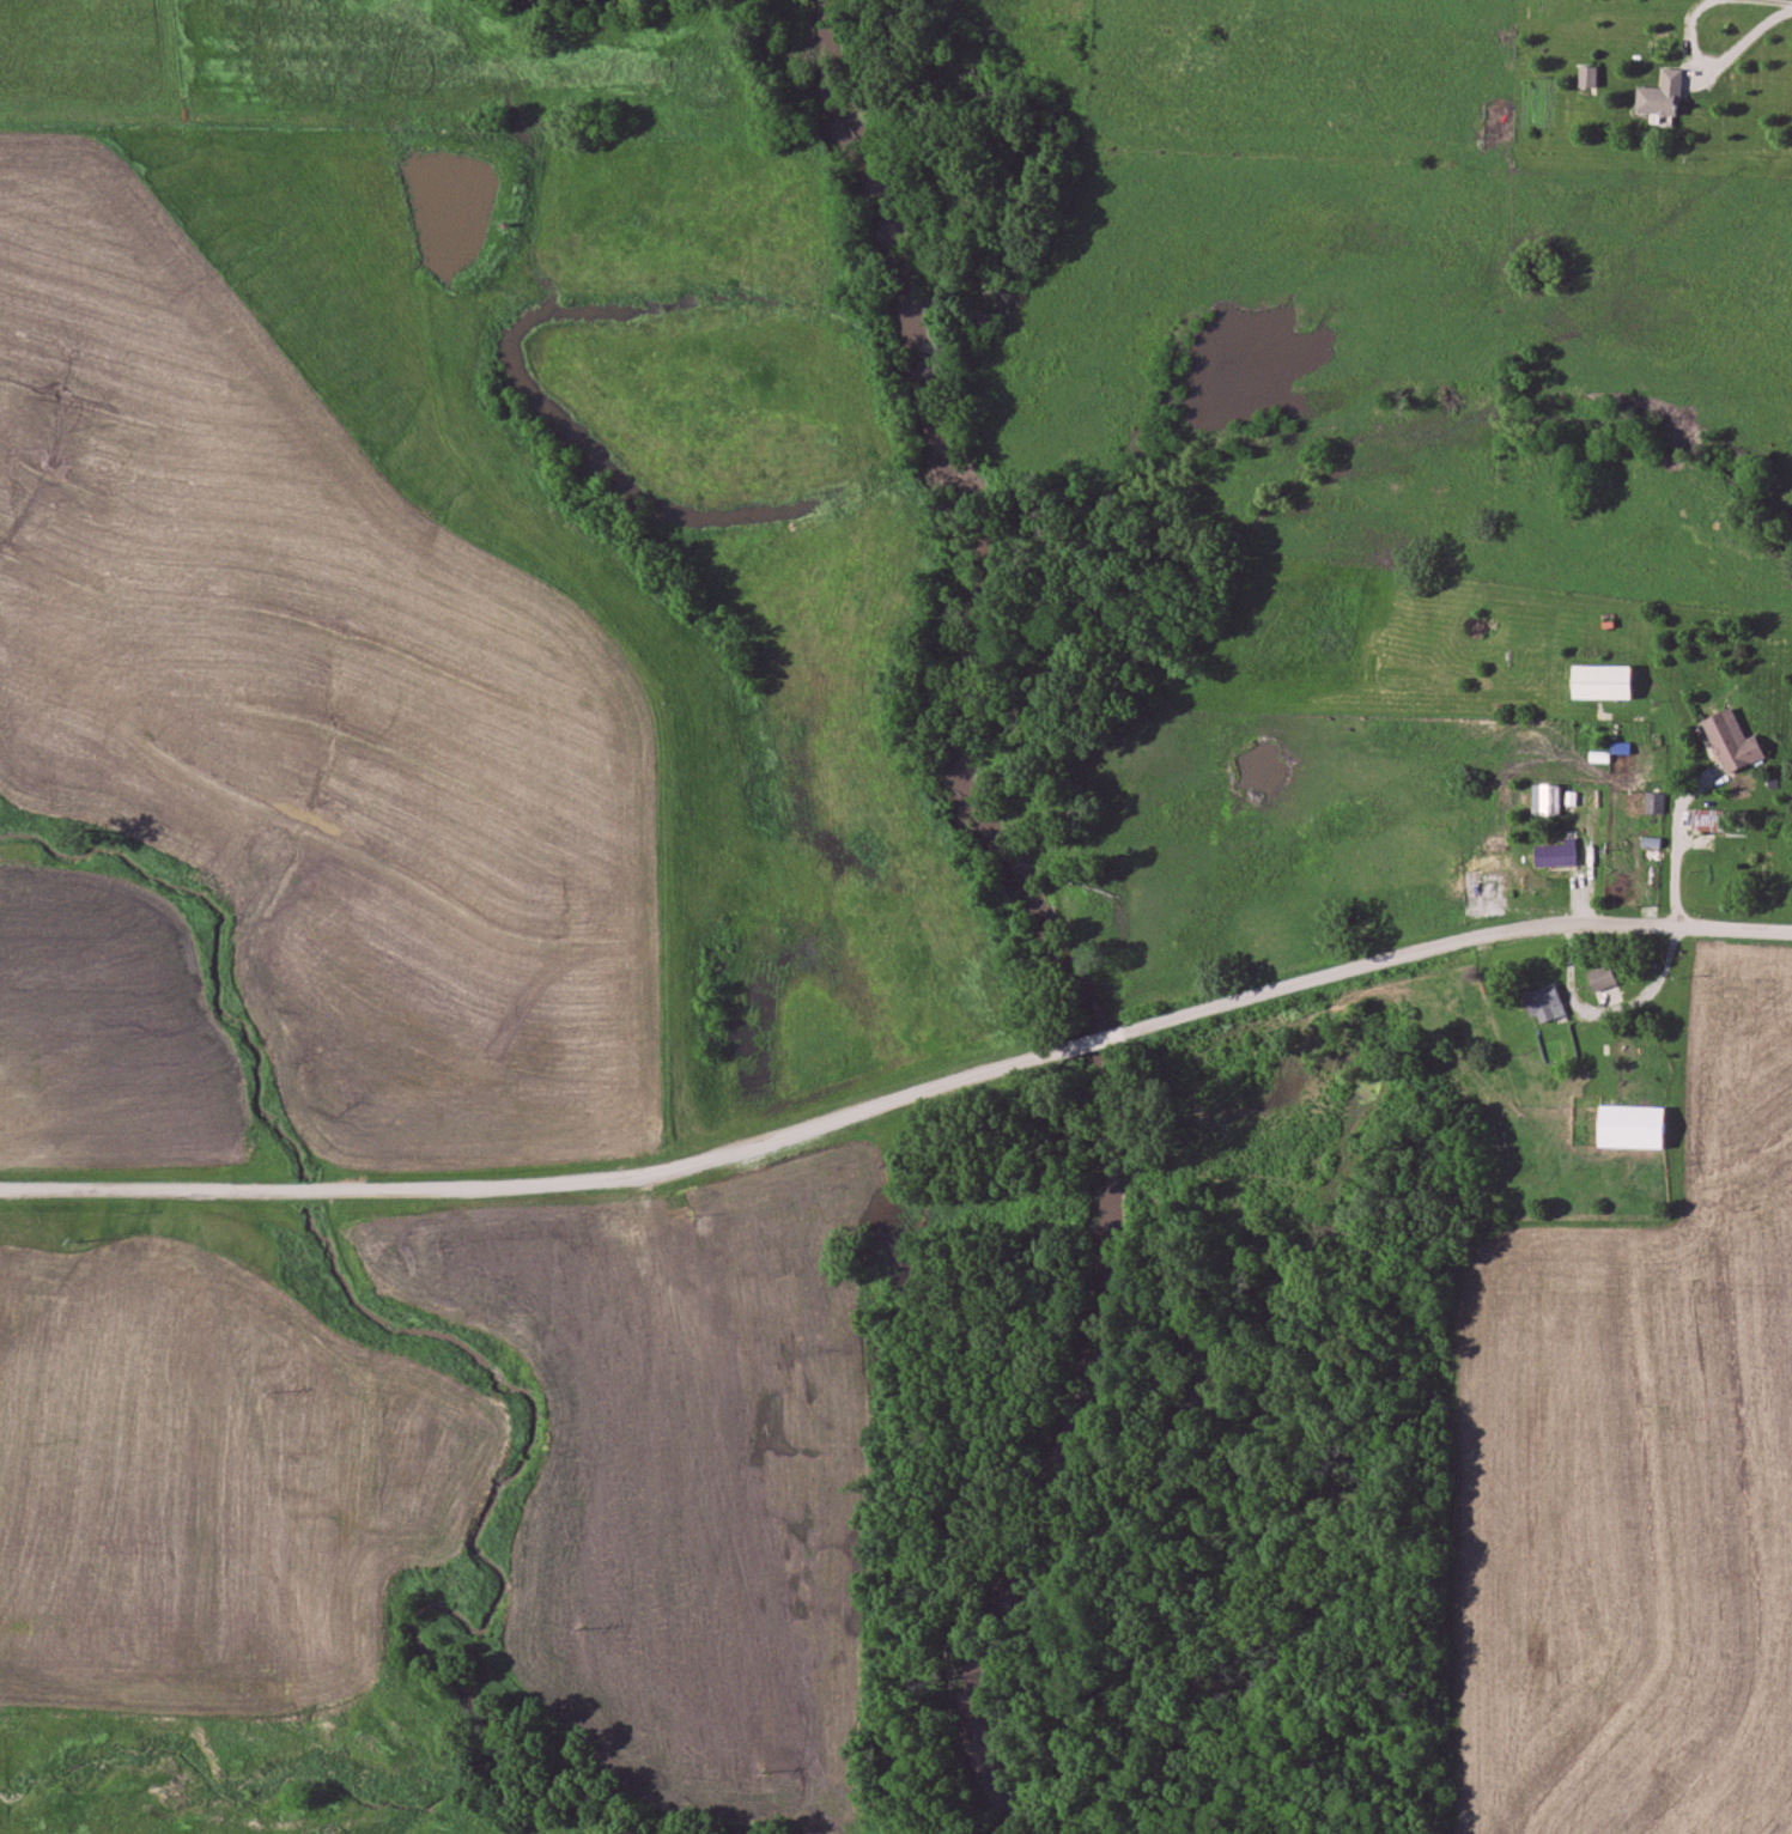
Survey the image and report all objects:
building: (1587, 77)
building: (1662, 96)
building: (1603, 681)
building: (1732, 741)
building: (1651, 855)
building: (1556, 856)
building: (1338, 885)
road: (1454, 946)
building: (1600, 978)
building: (1544, 1004)
road: (1094, 1043)
road: (540, 1189)

